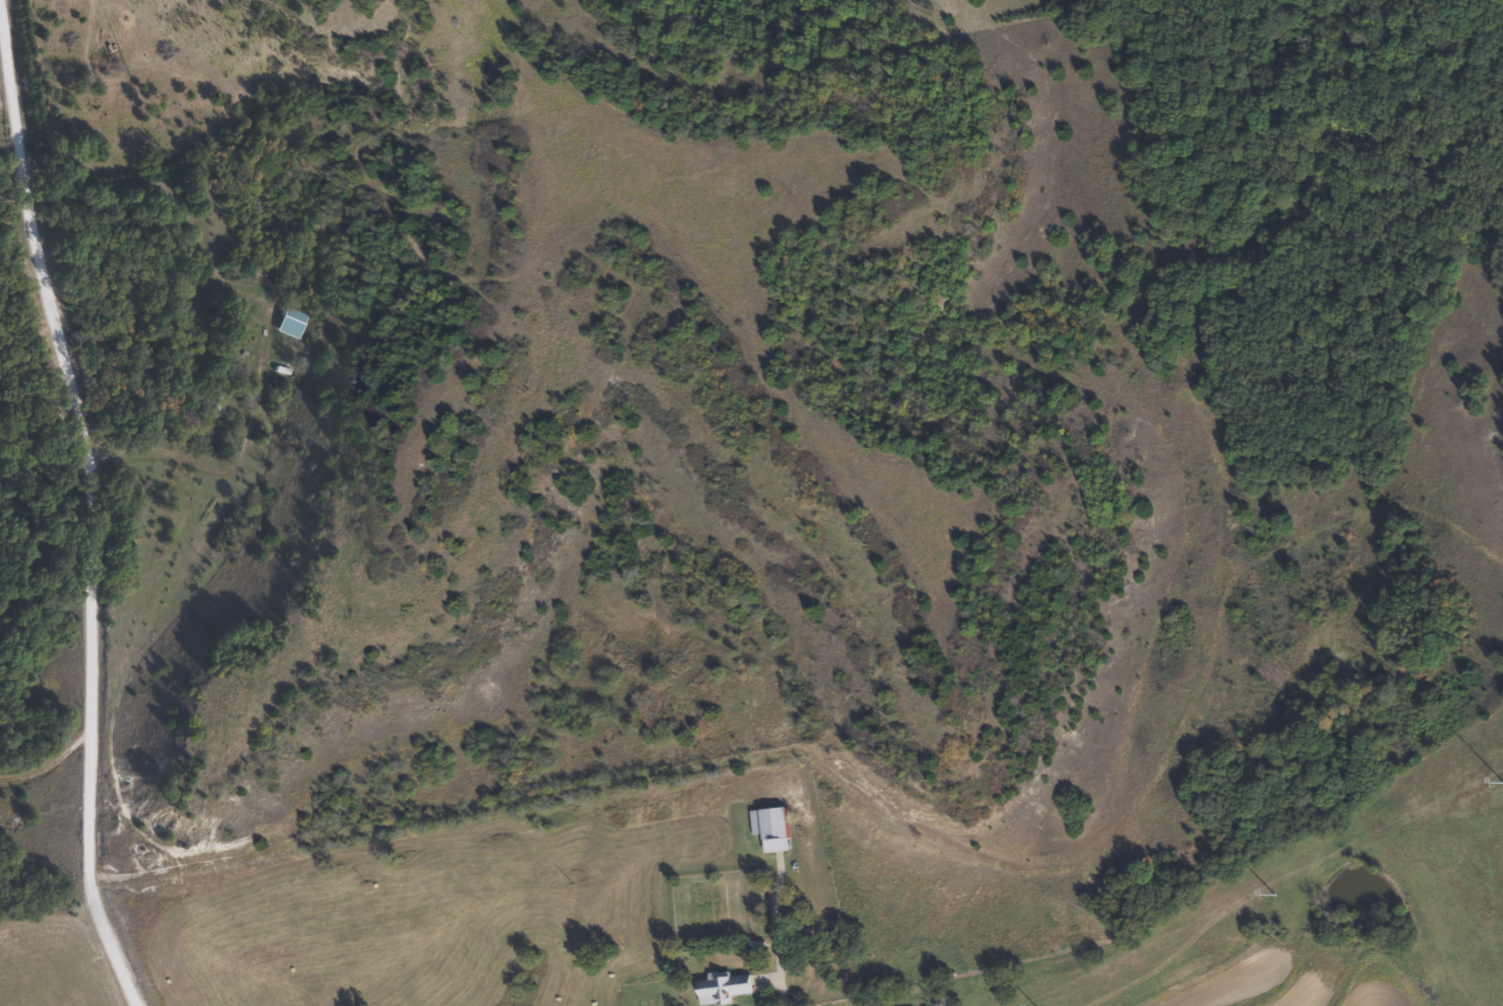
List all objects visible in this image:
road: (32, 372)
road: (88, 546)
power tower: (1500, 778)
building: (769, 827)
power tower: (1270, 892)
building: (722, 987)
power tower: (1037, 1005)

